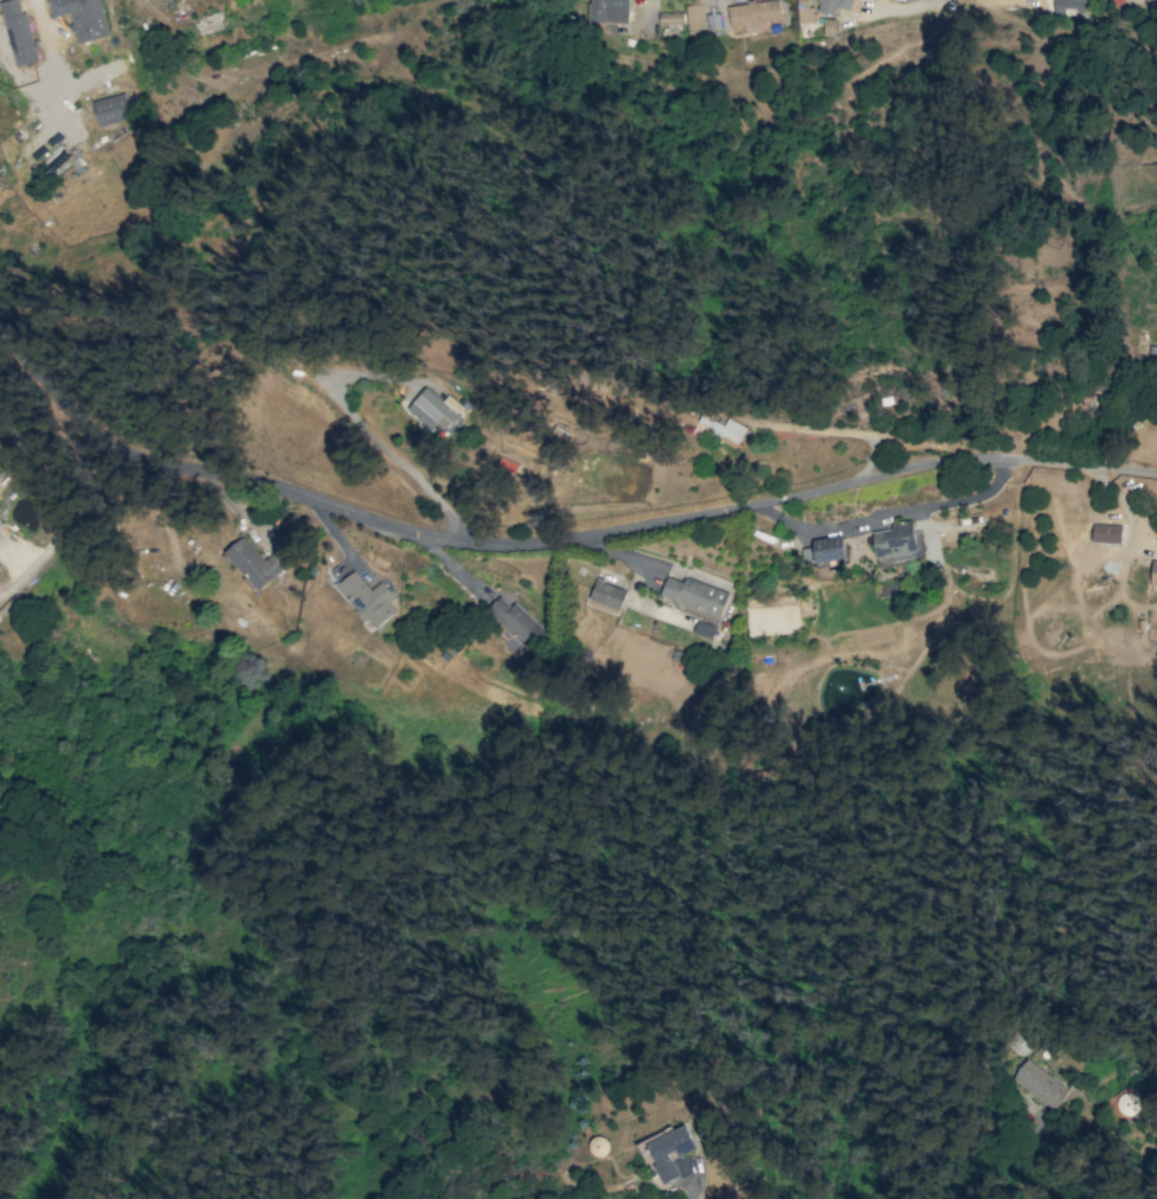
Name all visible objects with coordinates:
building: (833, 5)
road: (901, 6)
building: (1068, 7)
building: (804, 11)
building: (753, 13)
building: (608, 14)
building: (82, 17)
building: (670, 17)
building: (713, 20)
building: (695, 21)
building: (208, 23)
building: (828, 26)
building: (18, 32)
building: (111, 109)
building: (436, 409)
building: (724, 429)
road: (371, 434)
building: (1106, 533)
building: (895, 541)
road: (546, 550)
building: (824, 550)
building: (256, 563)
building: (1153, 573)
building: (608, 594)
building: (694, 595)
building: (367, 598)
building: (518, 623)
building: (1040, 1084)
building: (1127, 1104)
building: (706, 1129)
building: (597, 1146)
building: (669, 1152)

